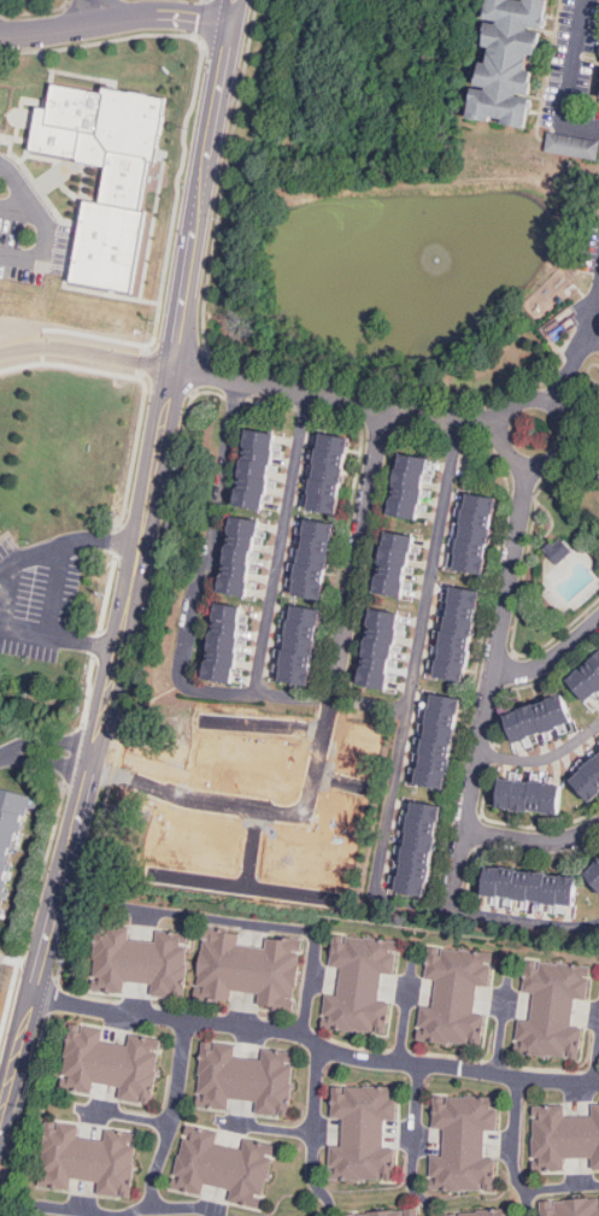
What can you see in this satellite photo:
road: (106, 10)
road: (81, 12)
road: (116, 18)
road: (202, 18)
building: (504, 63)
road: (570, 77)
building: (598, 95)
building: (572, 145)
road: (227, 177)
building: (124, 182)
road: (177, 190)
road: (19, 210)
road: (47, 225)
fountain: (434, 263)
building: (553, 294)
road: (594, 319)
road: (593, 339)
road: (86, 347)
road: (566, 371)
road: (199, 372)
road: (336, 394)
road: (556, 416)
road: (135, 452)
building: (251, 474)
building: (323, 477)
building: (598, 481)
building: (418, 488)
building: (403, 492)
road: (117, 540)
building: (471, 540)
road: (276, 544)
road: (67, 546)
building: (553, 554)
building: (234, 562)
building: (306, 562)
road: (137, 564)
building: (389, 566)
road: (55, 592)
road: (106, 593)
road: (6, 597)
road: (58, 636)
building: (451, 638)
road: (96, 645)
building: (219, 645)
building: (292, 648)
building: (376, 651)
road: (552, 659)
building: (585, 681)
road: (133, 688)
road: (87, 689)
road: (491, 689)
road: (251, 699)
building: (533, 721)
road: (264, 722)
building: (435, 744)
road: (47, 752)
road: (74, 754)
building: (242, 758)
road: (544, 759)
road: (389, 770)
building: (587, 779)
building: (522, 801)
road: (248, 803)
building: (216, 811)
building: (8, 836)
road: (533, 844)
road: (253, 845)
building: (190, 847)
building: (415, 847)
building: (300, 862)
building: (594, 877)
road: (241, 885)
building: (522, 889)
road: (33, 911)
road: (268, 929)
road: (22, 954)
building: (135, 964)
building: (245, 975)
building: (359, 989)
building: (459, 994)
road: (52, 998)
building: (551, 1016)
road: (403, 1022)
road: (499, 1033)
road: (316, 1041)
road: (595, 1057)
building: (107, 1062)
building: (242, 1079)
road: (2, 1099)
road: (23, 1105)
road: (174, 1115)
road: (127, 1120)
road: (268, 1132)
road: (312, 1133)
building: (357, 1135)
building: (464, 1141)
building: (559, 1141)
road: (410, 1145)
road: (510, 1147)
building: (90, 1165)
building: (222, 1173)
road: (557, 1192)
building: (571, 1208)
road: (60, 1210)
road: (186, 1210)
road: (139, 1212)
building: (387, 1214)
building: (500, 1215)

